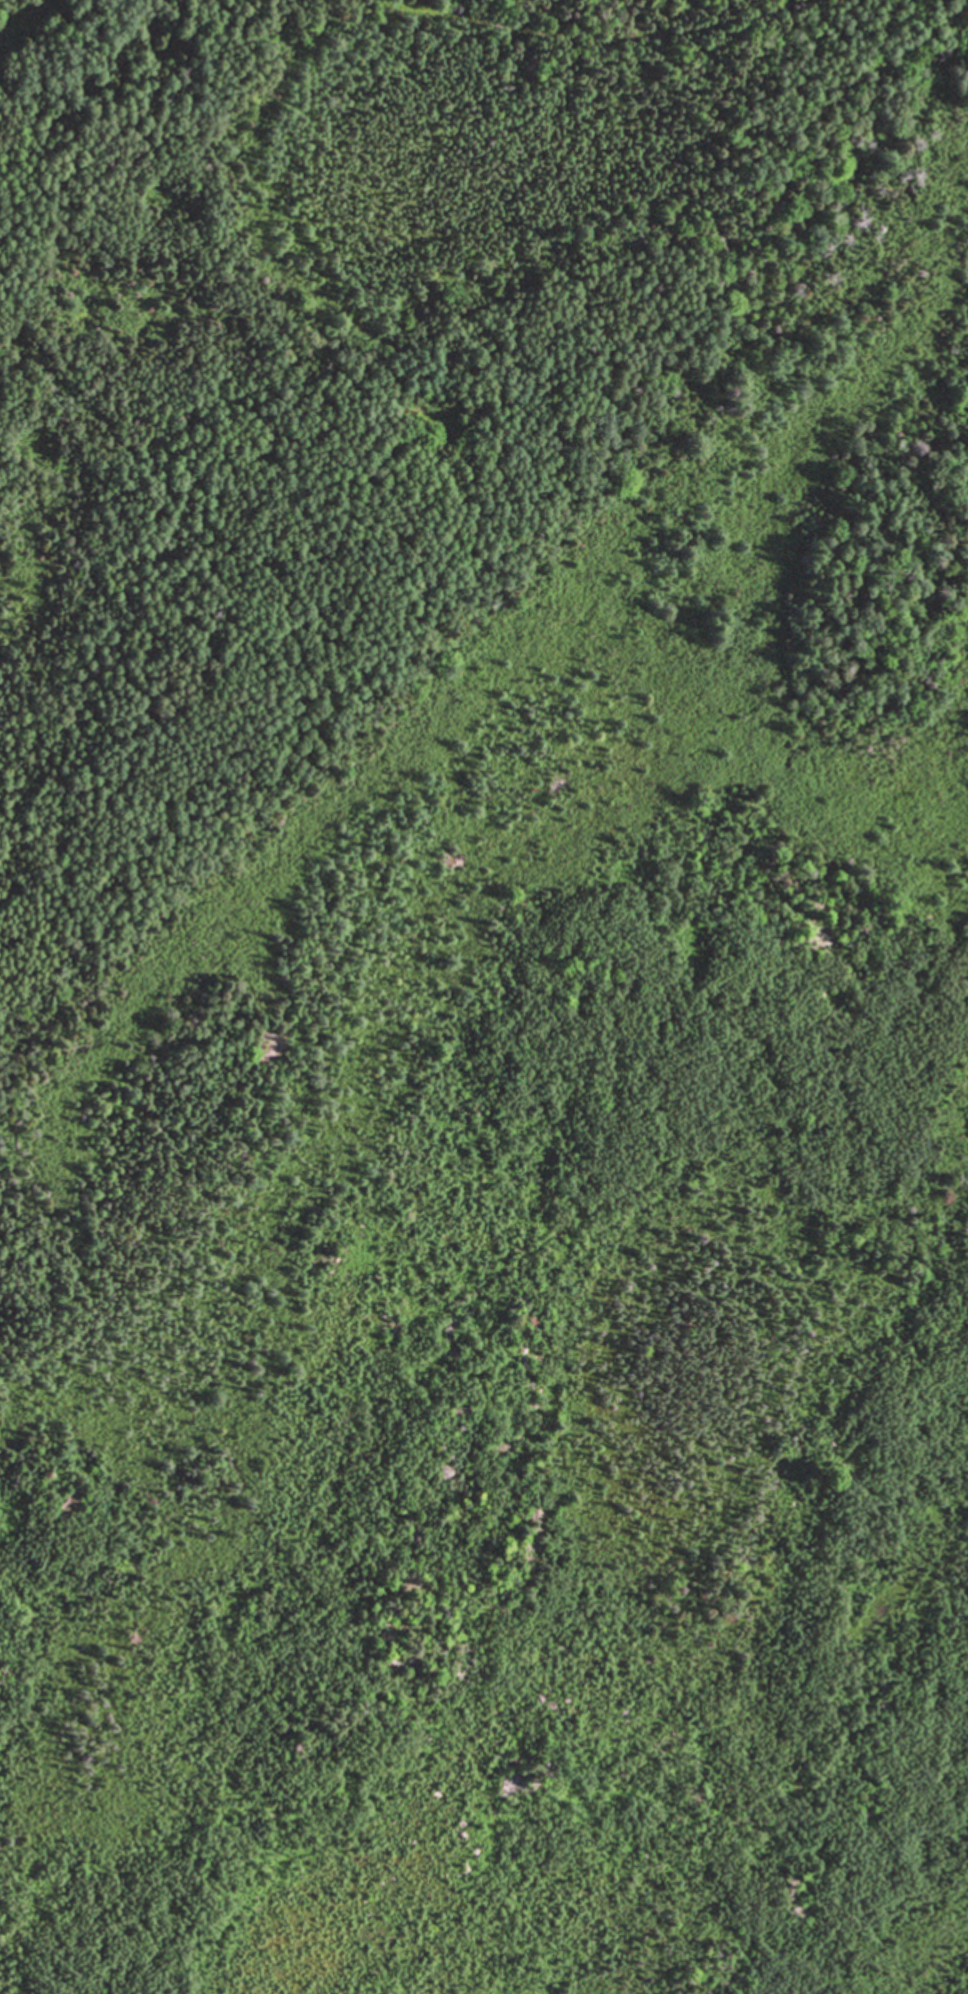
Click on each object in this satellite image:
road: (18, 19)

